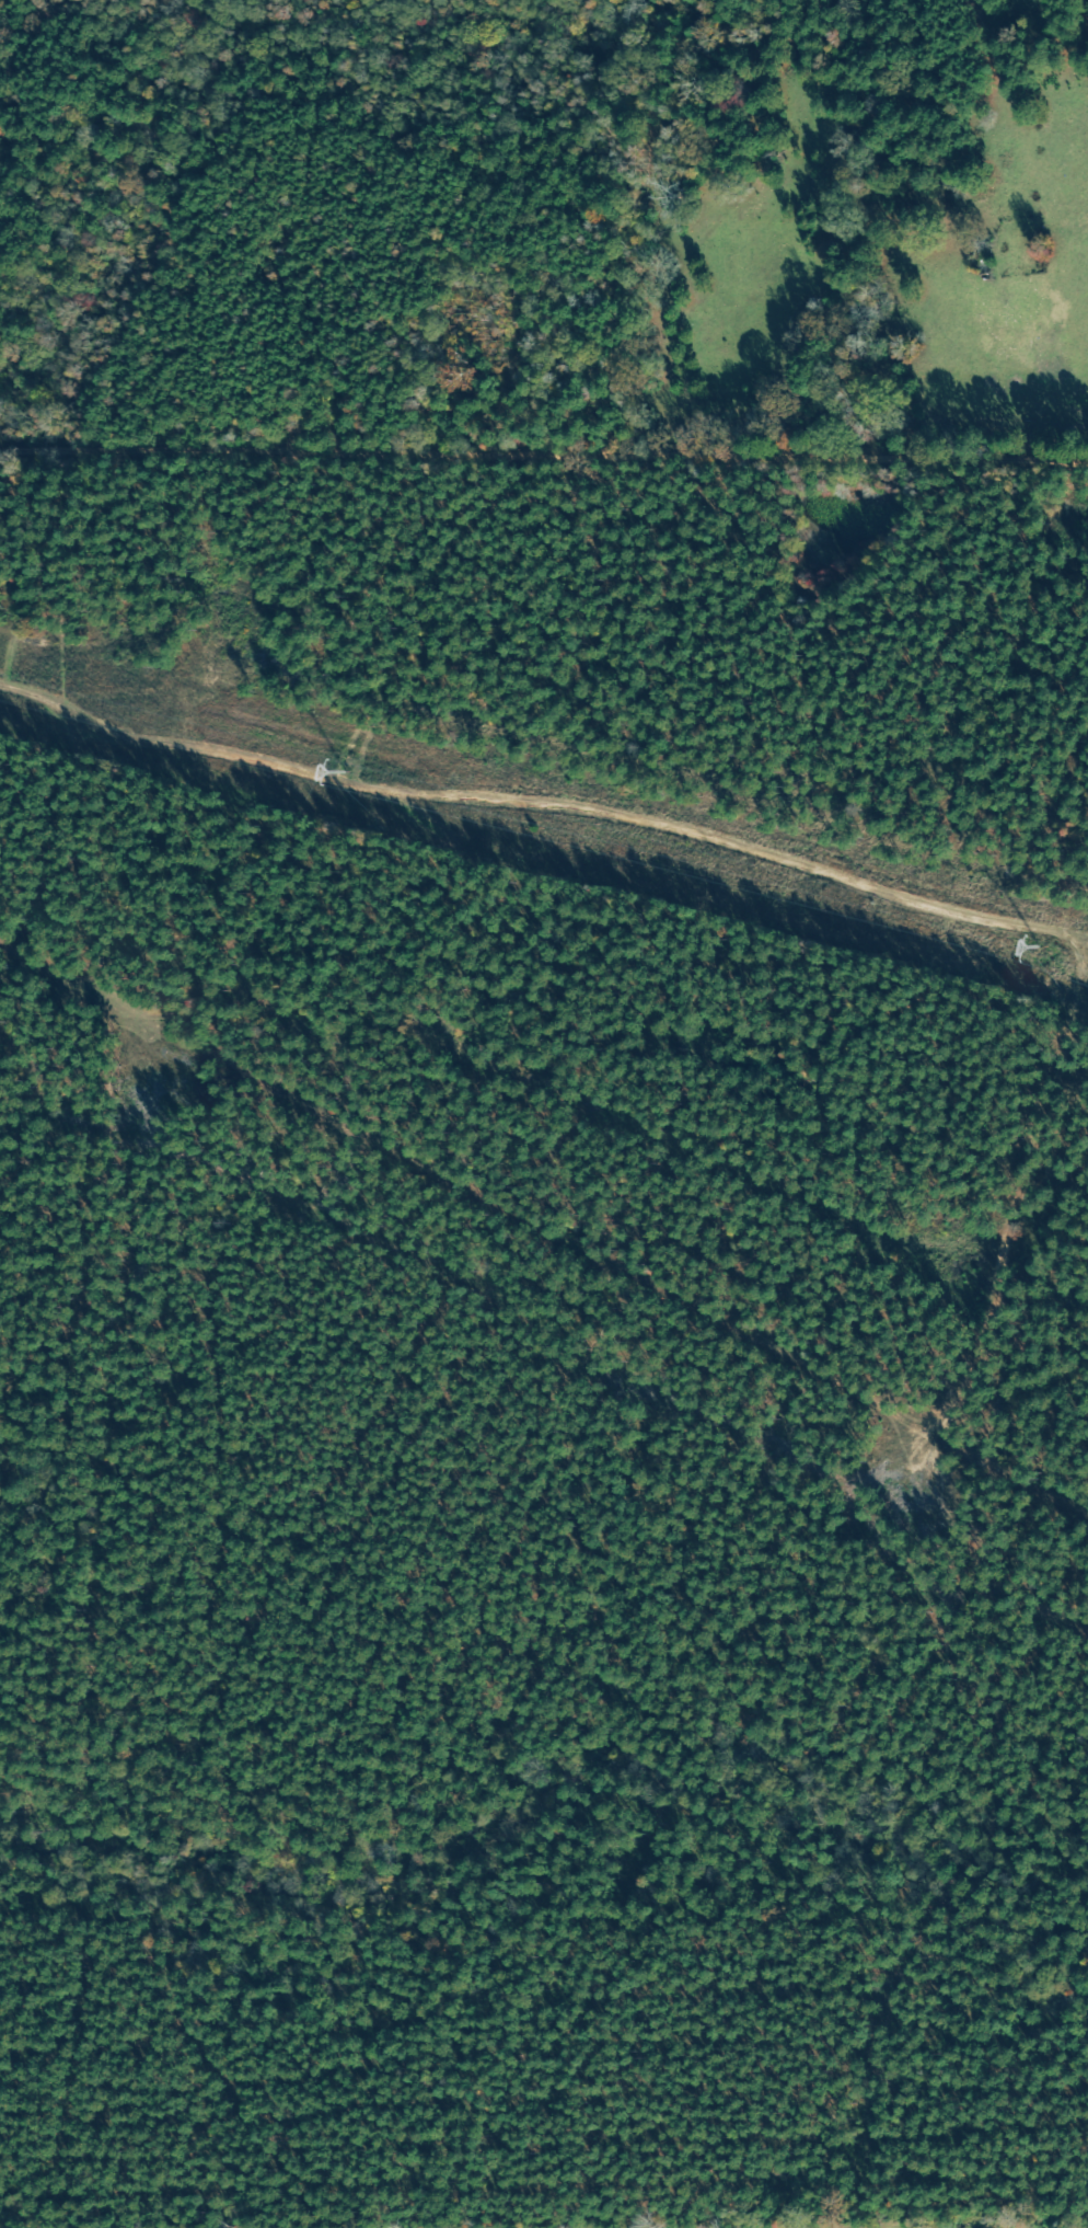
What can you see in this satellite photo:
road: (544, 452)
power tower: (340, 772)
power tower: (1037, 949)

